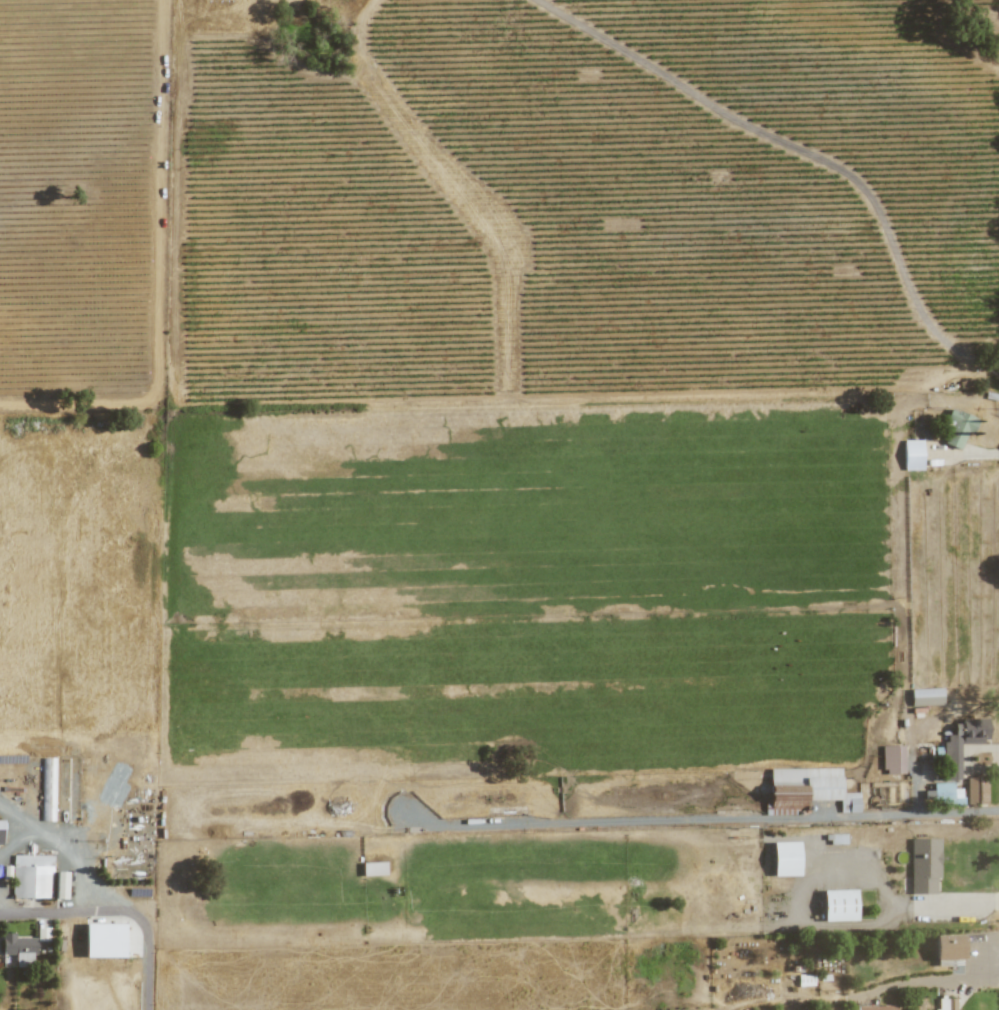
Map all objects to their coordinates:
road: (803, 151)
building: (957, 428)
building: (911, 455)
building: (925, 697)
building: (892, 760)
building: (951, 761)
building: (46, 785)
building: (808, 789)
building: (944, 794)
road: (716, 820)
road: (16, 822)
building: (0, 832)
road: (66, 855)
building: (785, 859)
building: (924, 865)
building: (373, 869)
building: (31, 877)
building: (60, 885)
road: (901, 901)
building: (838, 906)
road: (37, 910)
road: (139, 939)
building: (104, 941)
building: (18, 948)
building: (948, 949)
building: (945, 1004)
building: (872, 1008)

